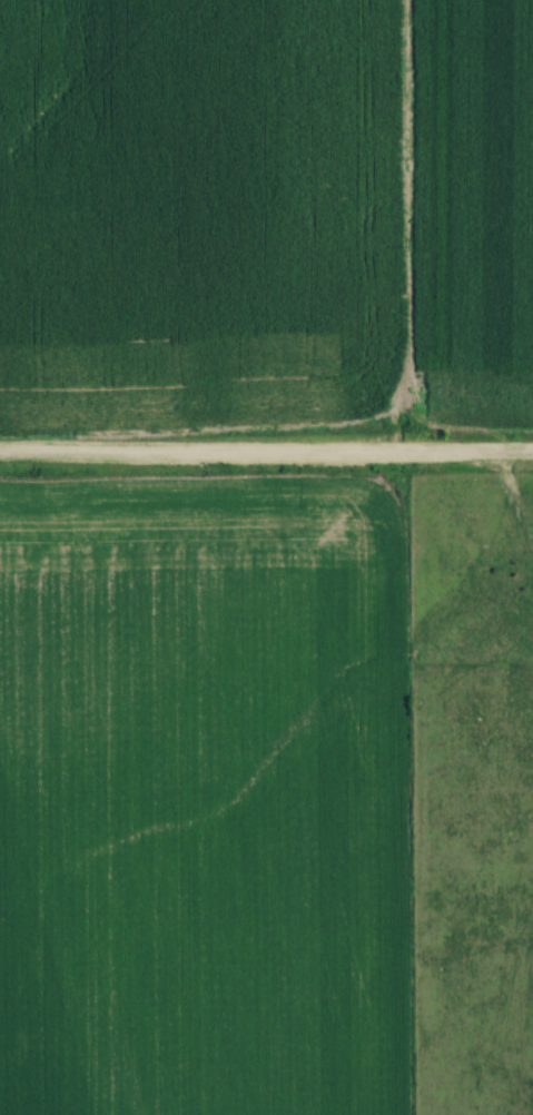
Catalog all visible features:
road: (266, 460)

